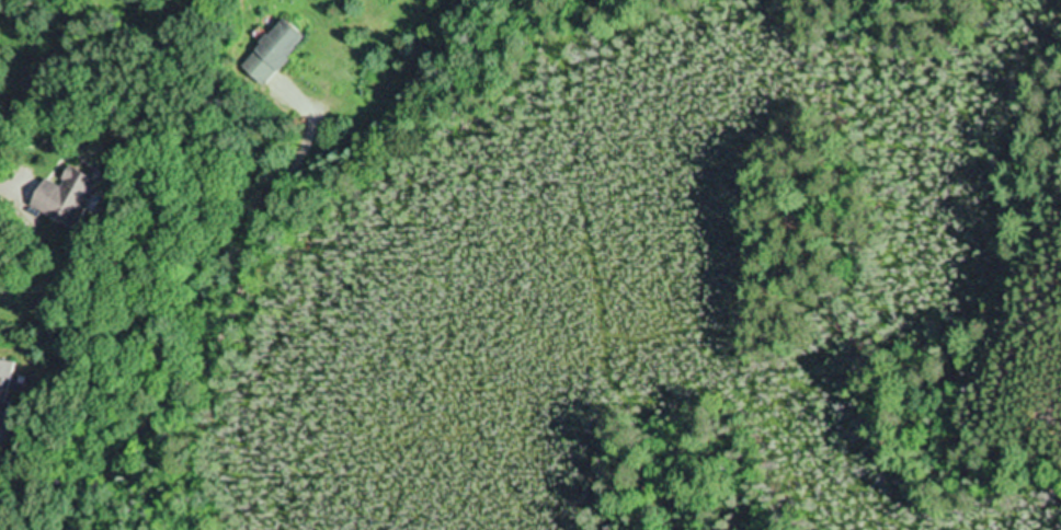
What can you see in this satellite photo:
building: (269, 54)
building: (60, 197)
building: (3, 388)

